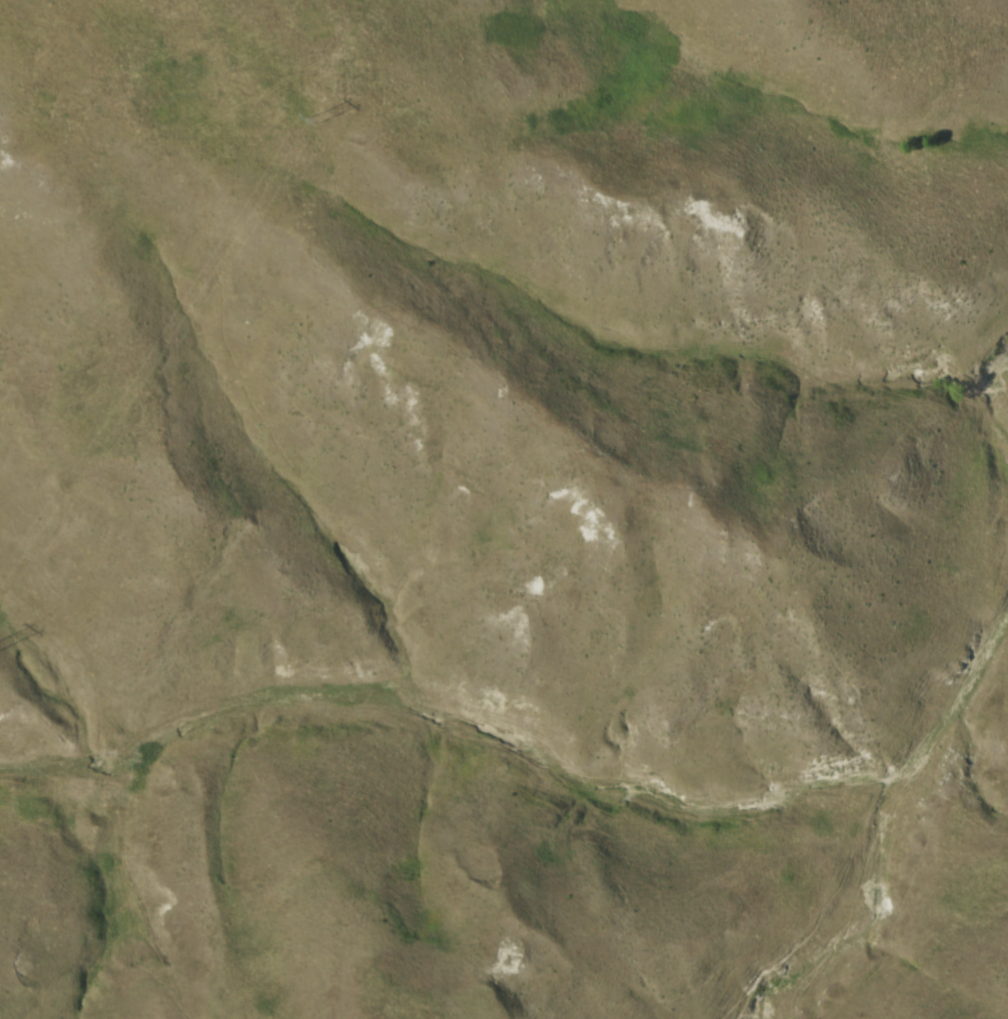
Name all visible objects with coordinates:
power tower: (316, 118)

